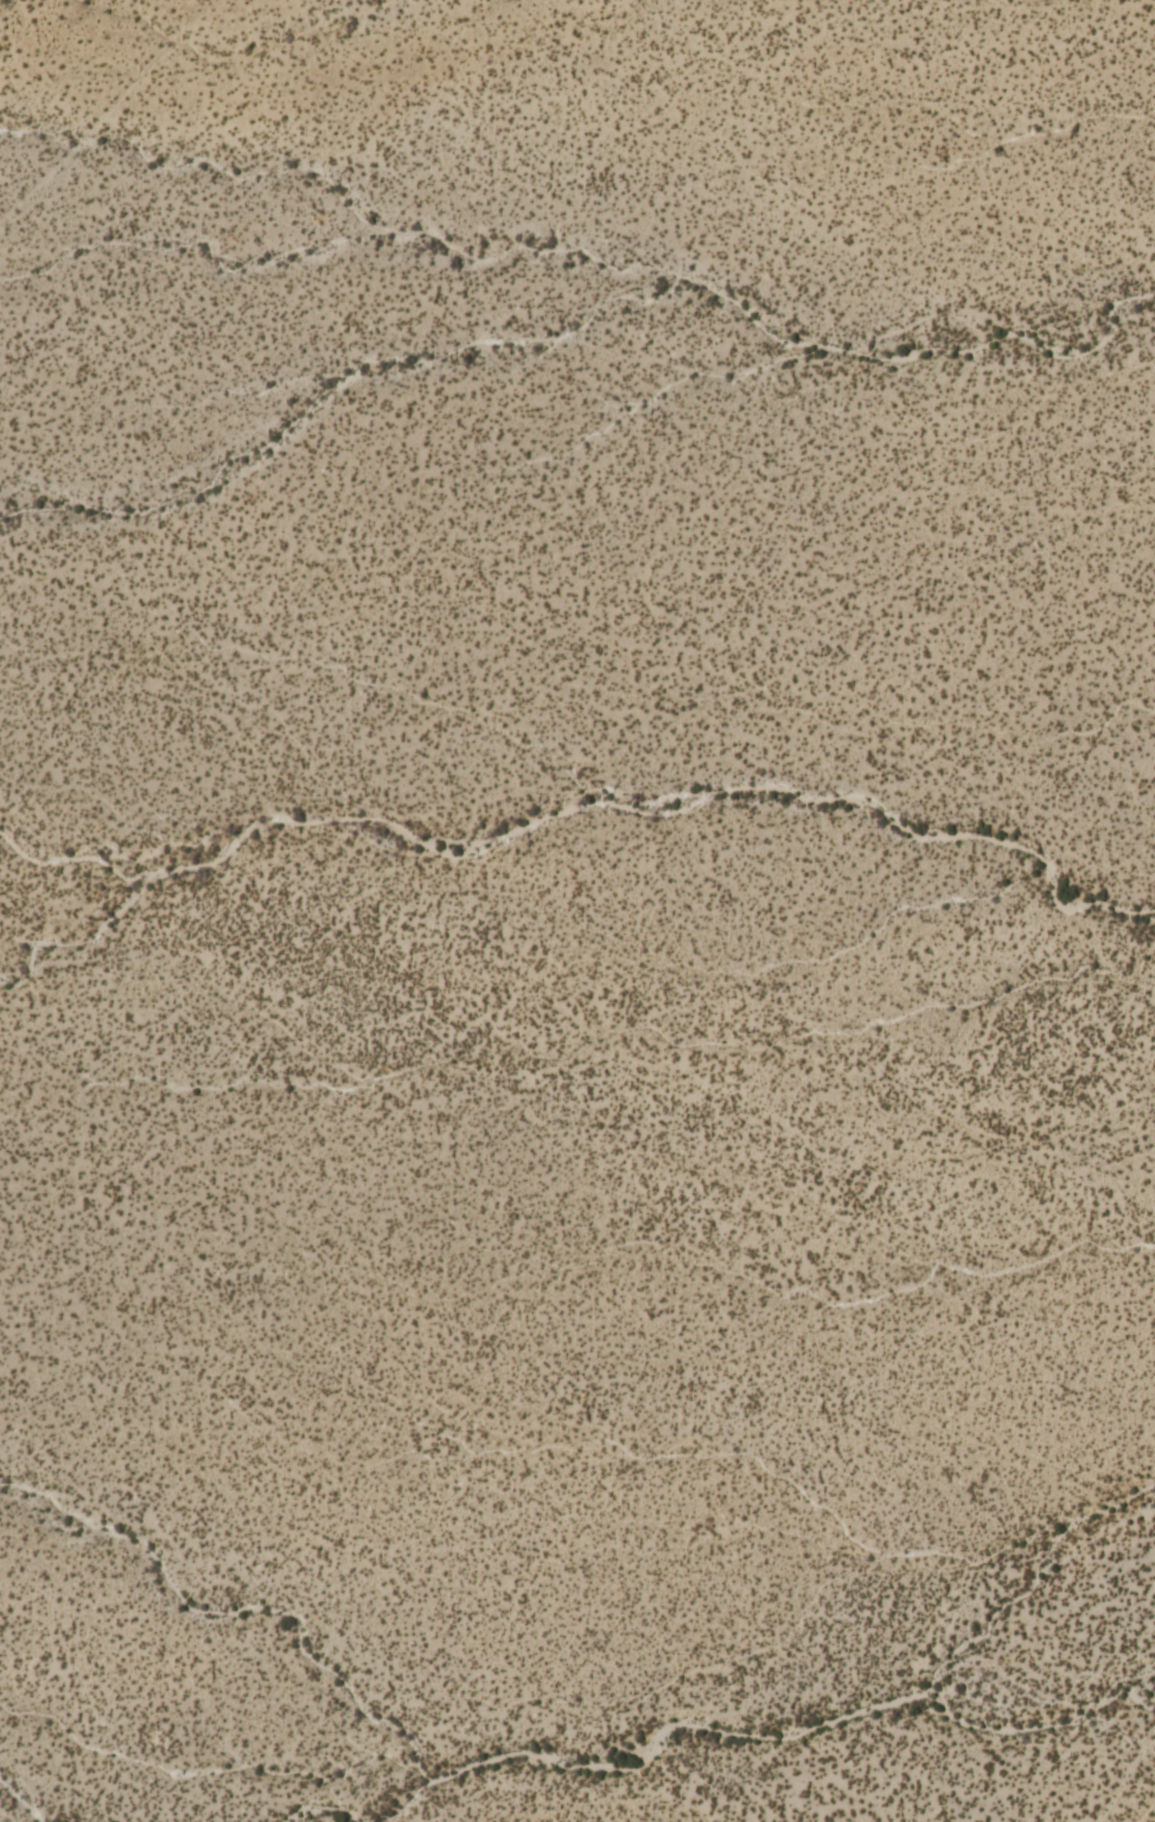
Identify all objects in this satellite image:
road: (1104, 1747)

